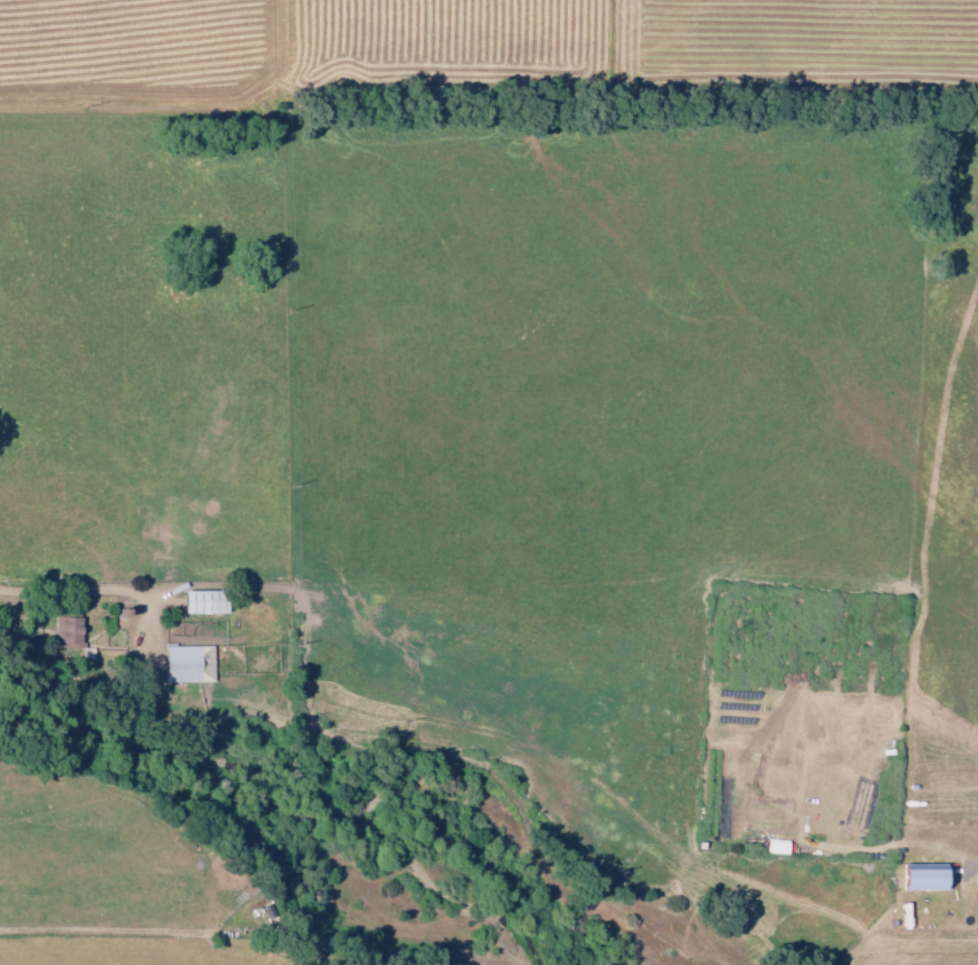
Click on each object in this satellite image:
building: (199, 603)
building: (65, 632)
building: (186, 664)
building: (919, 877)

